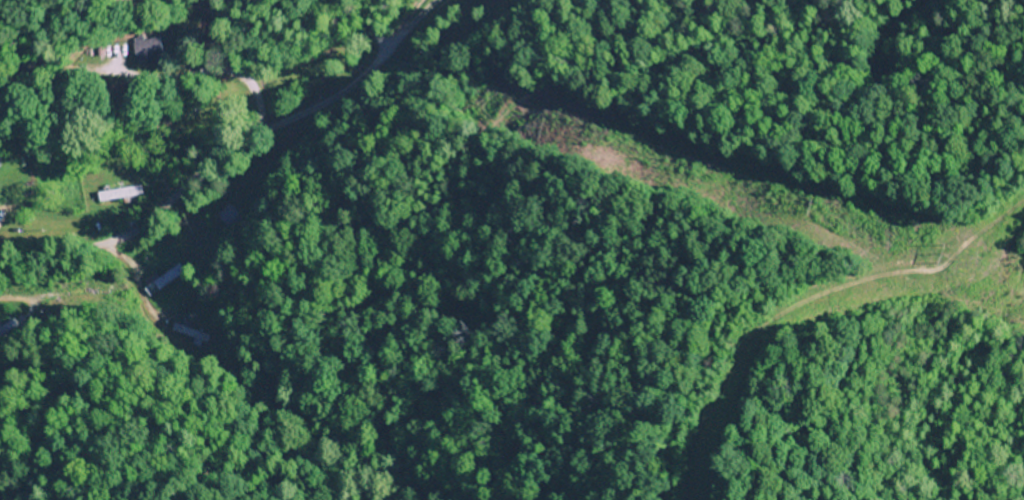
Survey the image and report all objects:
building: (149, 51)
road: (223, 151)
building: (117, 195)
building: (227, 217)

